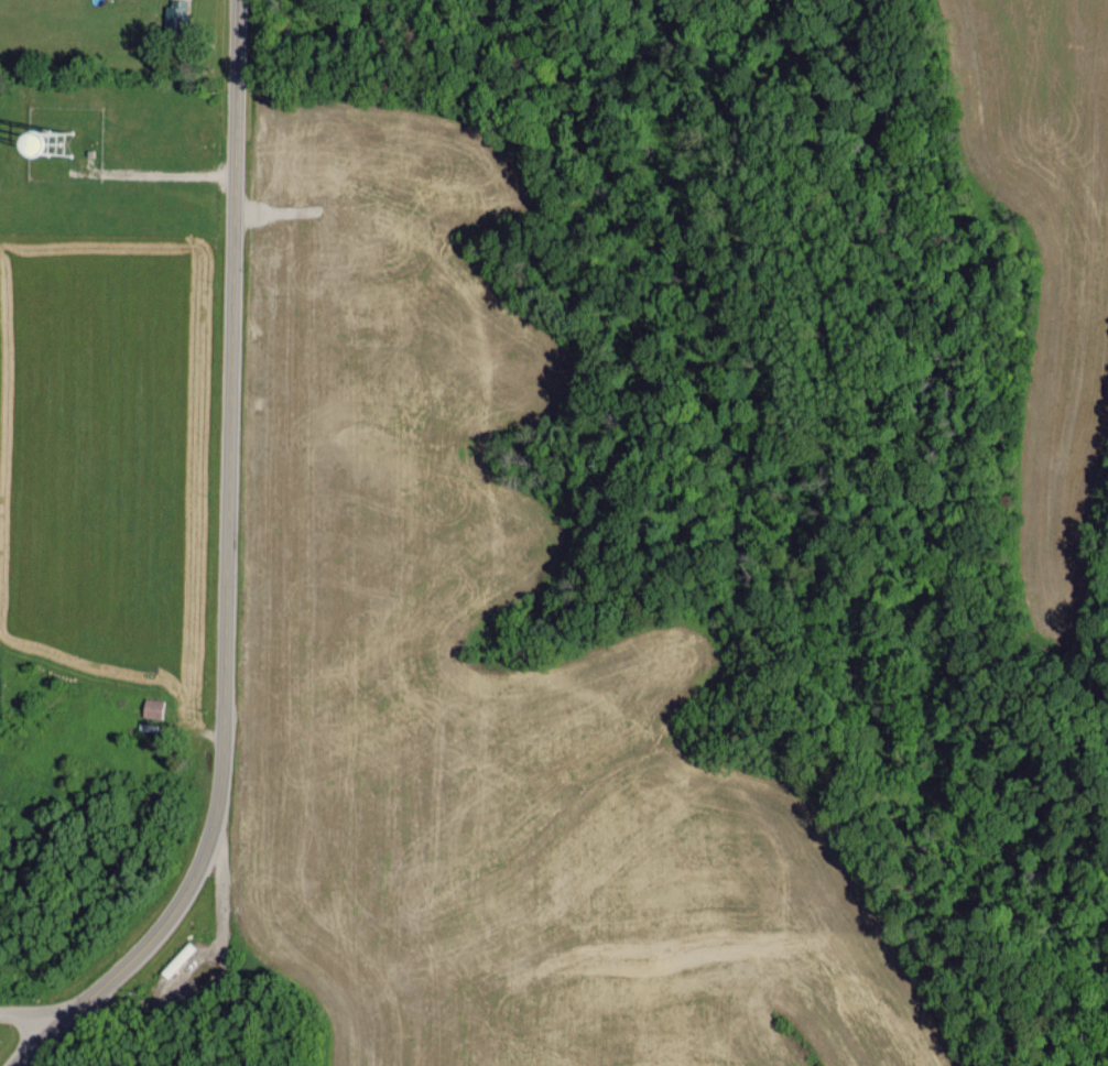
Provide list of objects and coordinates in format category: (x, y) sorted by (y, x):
building: (173, 11)
road: (228, 540)
building: (152, 707)
road: (224, 905)
road: (134, 1012)
road: (29, 1019)
road: (39, 1043)

